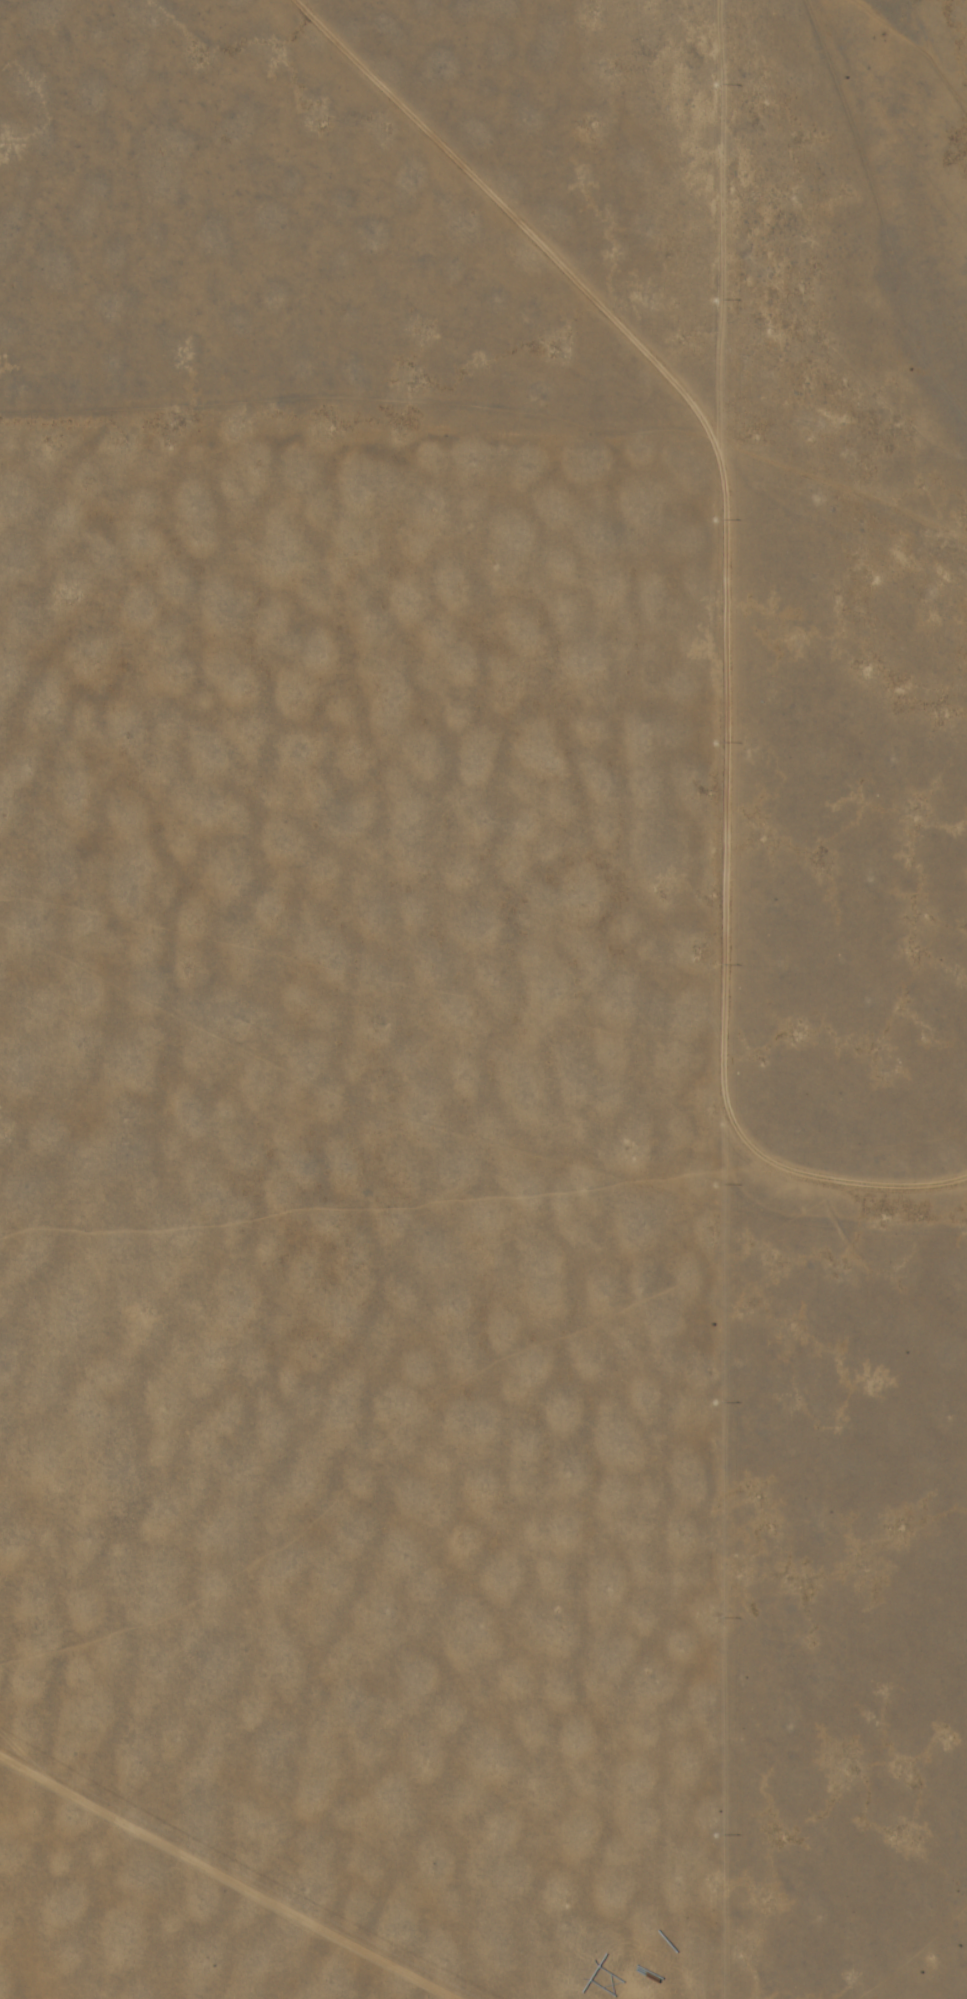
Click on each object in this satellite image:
road: (519, 176)
road: (866, 182)
road: (353, 338)
road: (715, 871)

